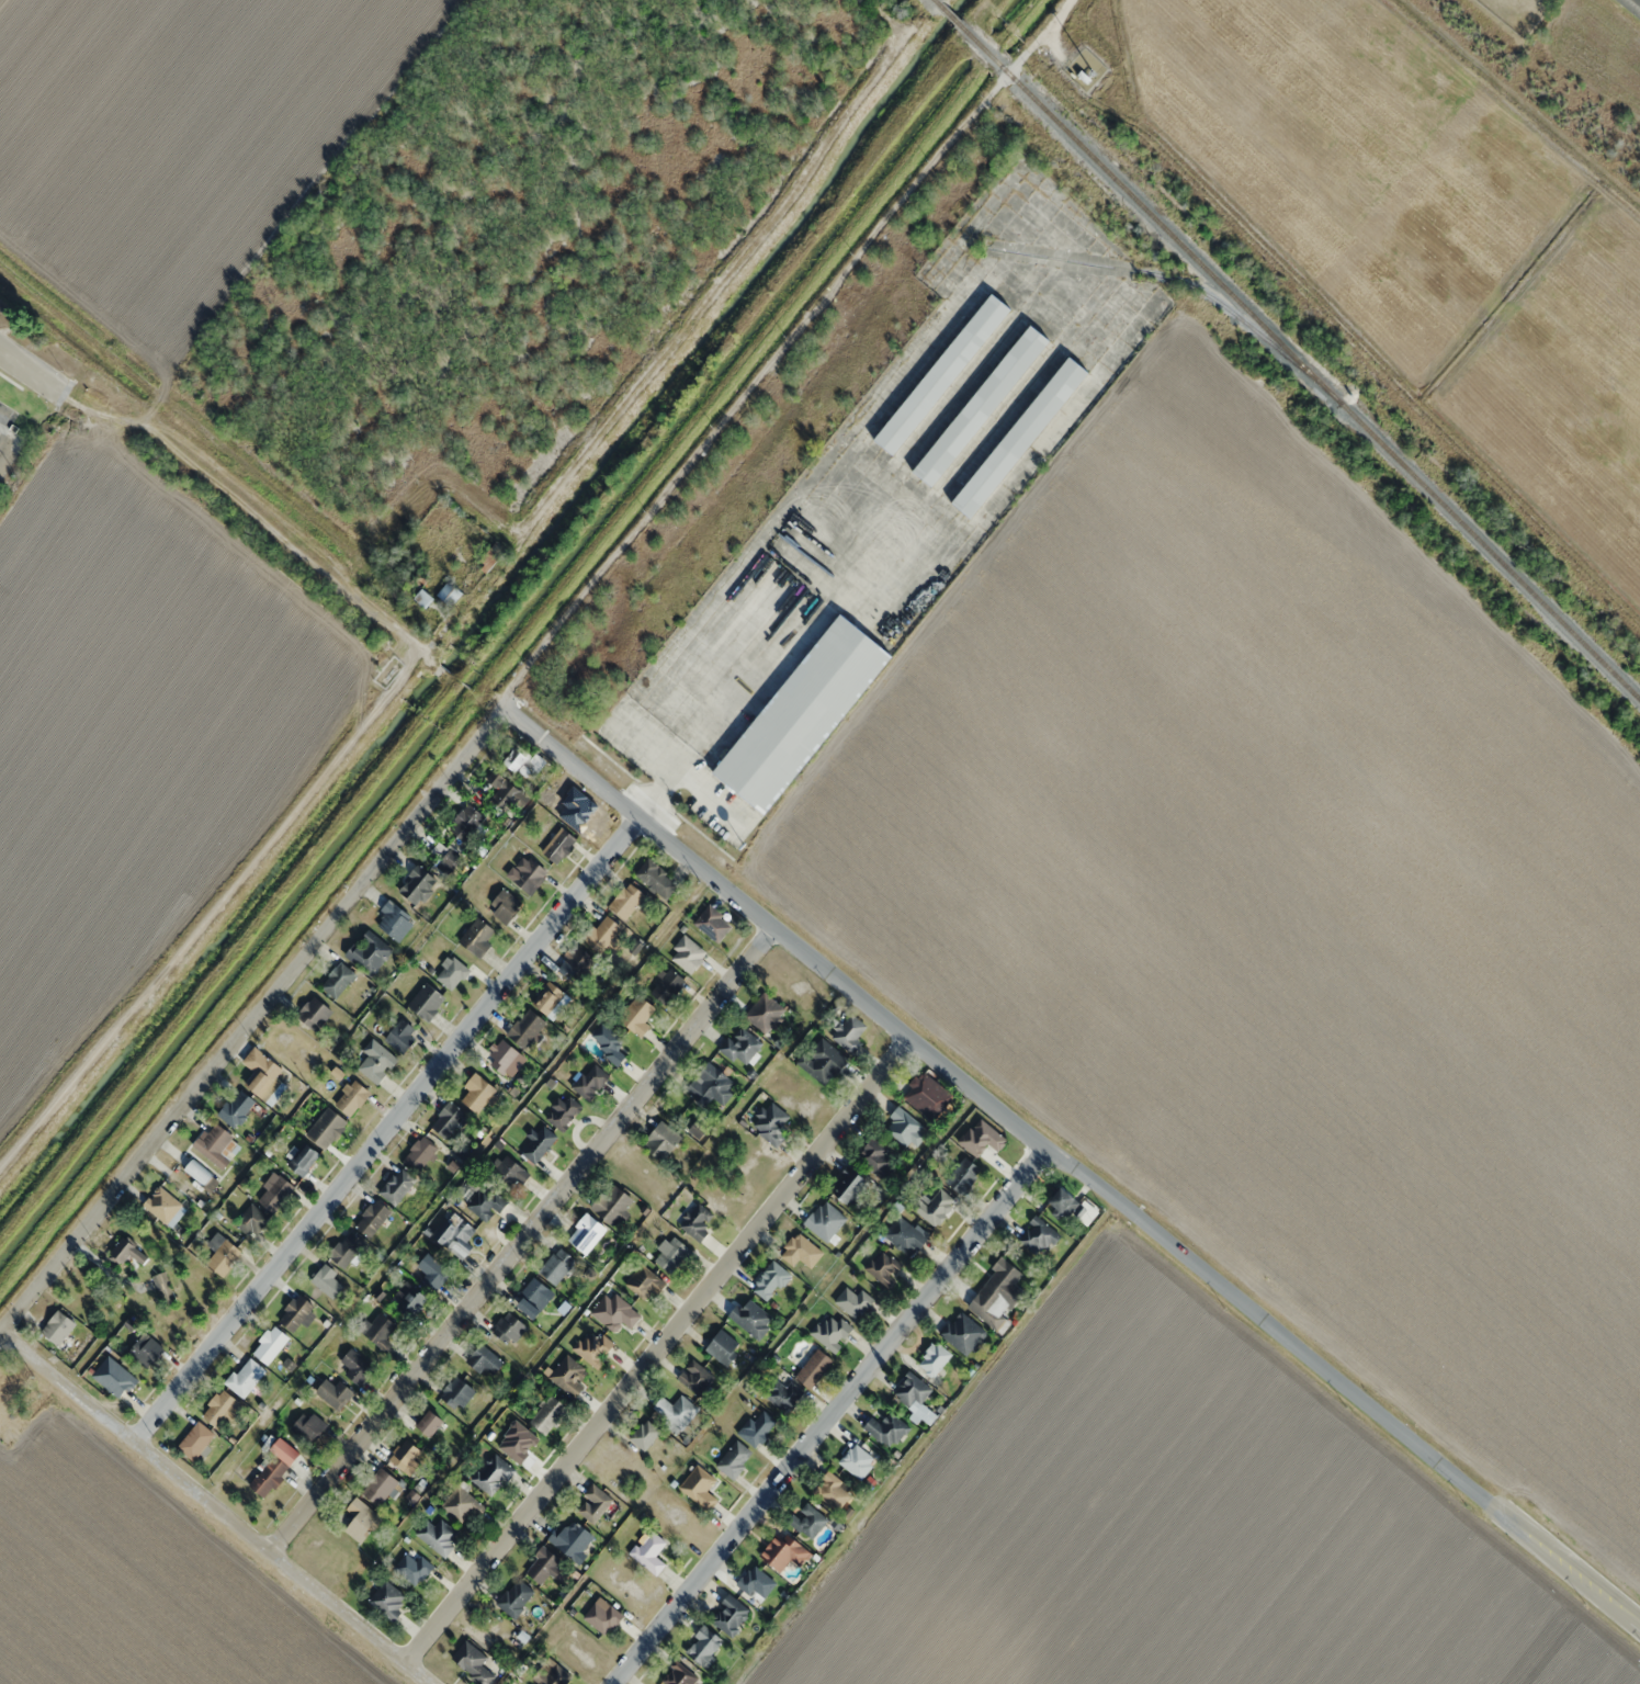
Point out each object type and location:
building: (1631, 5)
building: (1073, 67)
building: (1084, 76)
railway: (1177, 279)
railway: (1288, 347)
road: (783, 351)
building: (942, 374)
building: (981, 405)
building: (1020, 437)
road: (12, 442)
road: (215, 489)
building: (491, 556)
building: (450, 592)
building: (422, 598)
building: (802, 713)
building: (522, 759)
building: (506, 791)
building: (465, 822)
building: (559, 844)
building: (449, 861)
building: (530, 874)
building: (656, 878)
building: (418, 884)
building: (626, 900)
building: (505, 905)
building: (394, 919)
building: (713, 922)
building: (601, 933)
building: (477, 937)
building: (369, 952)
building: (687, 953)
building: (576, 962)
building: (451, 972)
building: (337, 980)
building: (667, 985)
building: (550, 999)
building: (427, 1001)
building: (314, 1013)
building: (765, 1013)
road: (249, 1014)
building: (636, 1015)
building: (525, 1028)
building: (849, 1032)
building: (400, 1035)
building: (608, 1041)
building: (740, 1046)
building: (505, 1059)
building: (822, 1060)
building: (375, 1062)
building: (263, 1076)
building: (590, 1081)
building: (711, 1087)
building: (477, 1093)
building: (927, 1095)
building: (351, 1097)
building: (236, 1108)
building: (563, 1111)
building: (448, 1119)
building: (771, 1123)
road: (382, 1127)
building: (904, 1127)
building: (327, 1128)
building: (660, 1140)
building: (538, 1144)
building: (216, 1145)
building: (420, 1154)
building: (303, 1159)
building: (876, 1159)
road: (1067, 1168)
building: (201, 1174)
building: (509, 1174)
building: (962, 1174)
building: (397, 1185)
building: (848, 1185)
building: (274, 1190)
building: (485, 1203)
building: (612, 1203)
building: (1062, 1203)
building: (162, 1205)
building: (935, 1206)
building: (372, 1218)
building: (825, 1220)
building: (251, 1221)
building: (697, 1221)
building: (586, 1233)
building: (455, 1235)
building: (905, 1235)
building: (1038, 1235)
road: (519, 1240)
building: (347, 1248)
building: (801, 1251)
building: (125, 1252)
building: (220, 1254)
building: (670, 1255)
building: (556, 1265)
building: (883, 1266)
building: (432, 1272)
building: (770, 1280)
building: (328, 1281)
building: (645, 1284)
building: (162, 1288)
building: (996, 1293)
building: (533, 1298)
building: (410, 1301)
building: (852, 1301)
building: (614, 1311)
building: (296, 1312)
building: (751, 1318)
building: (58, 1327)
building: (509, 1329)
building: (380, 1330)
building: (829, 1331)
building: (963, 1333)
building: (270, 1344)
building: (723, 1346)
building: (145, 1347)
building: (592, 1347)
road: (655, 1349)
building: (937, 1358)
building: (485, 1359)
building: (355, 1366)
building: (814, 1368)
building: (568, 1376)
building: (114, 1377)
building: (245, 1377)
building: (695, 1377)
building: (333, 1392)
building: (456, 1392)
building: (783, 1393)
building: (915, 1397)
building: (218, 1408)
building: (676, 1410)
building: (547, 1414)
road: (826, 1416)
building: (430, 1422)
building: (308, 1426)
building: (757, 1426)
building: (887, 1428)
building: (644, 1434)
building: (195, 1440)
building: (405, 1457)
building: (734, 1459)
building: (857, 1460)
building: (274, 1467)
building: (493, 1474)
building: (378, 1487)
building: (699, 1487)
building: (833, 1491)
building: (593, 1503)
building: (461, 1505)
road: (215, 1508)
building: (360, 1518)
building: (807, 1519)
building: (438, 1535)
building: (572, 1539)
building: (648, 1550)
building: (783, 1550)
building: (541, 1564)
building: (415, 1568)
building: (756, 1582)
building: (514, 1597)
building: (388, 1600)
building: (729, 1615)
building: (602, 1616)
building: (704, 1646)
building: (476, 1662)
building: (679, 1674)
building: (553, 1675)

